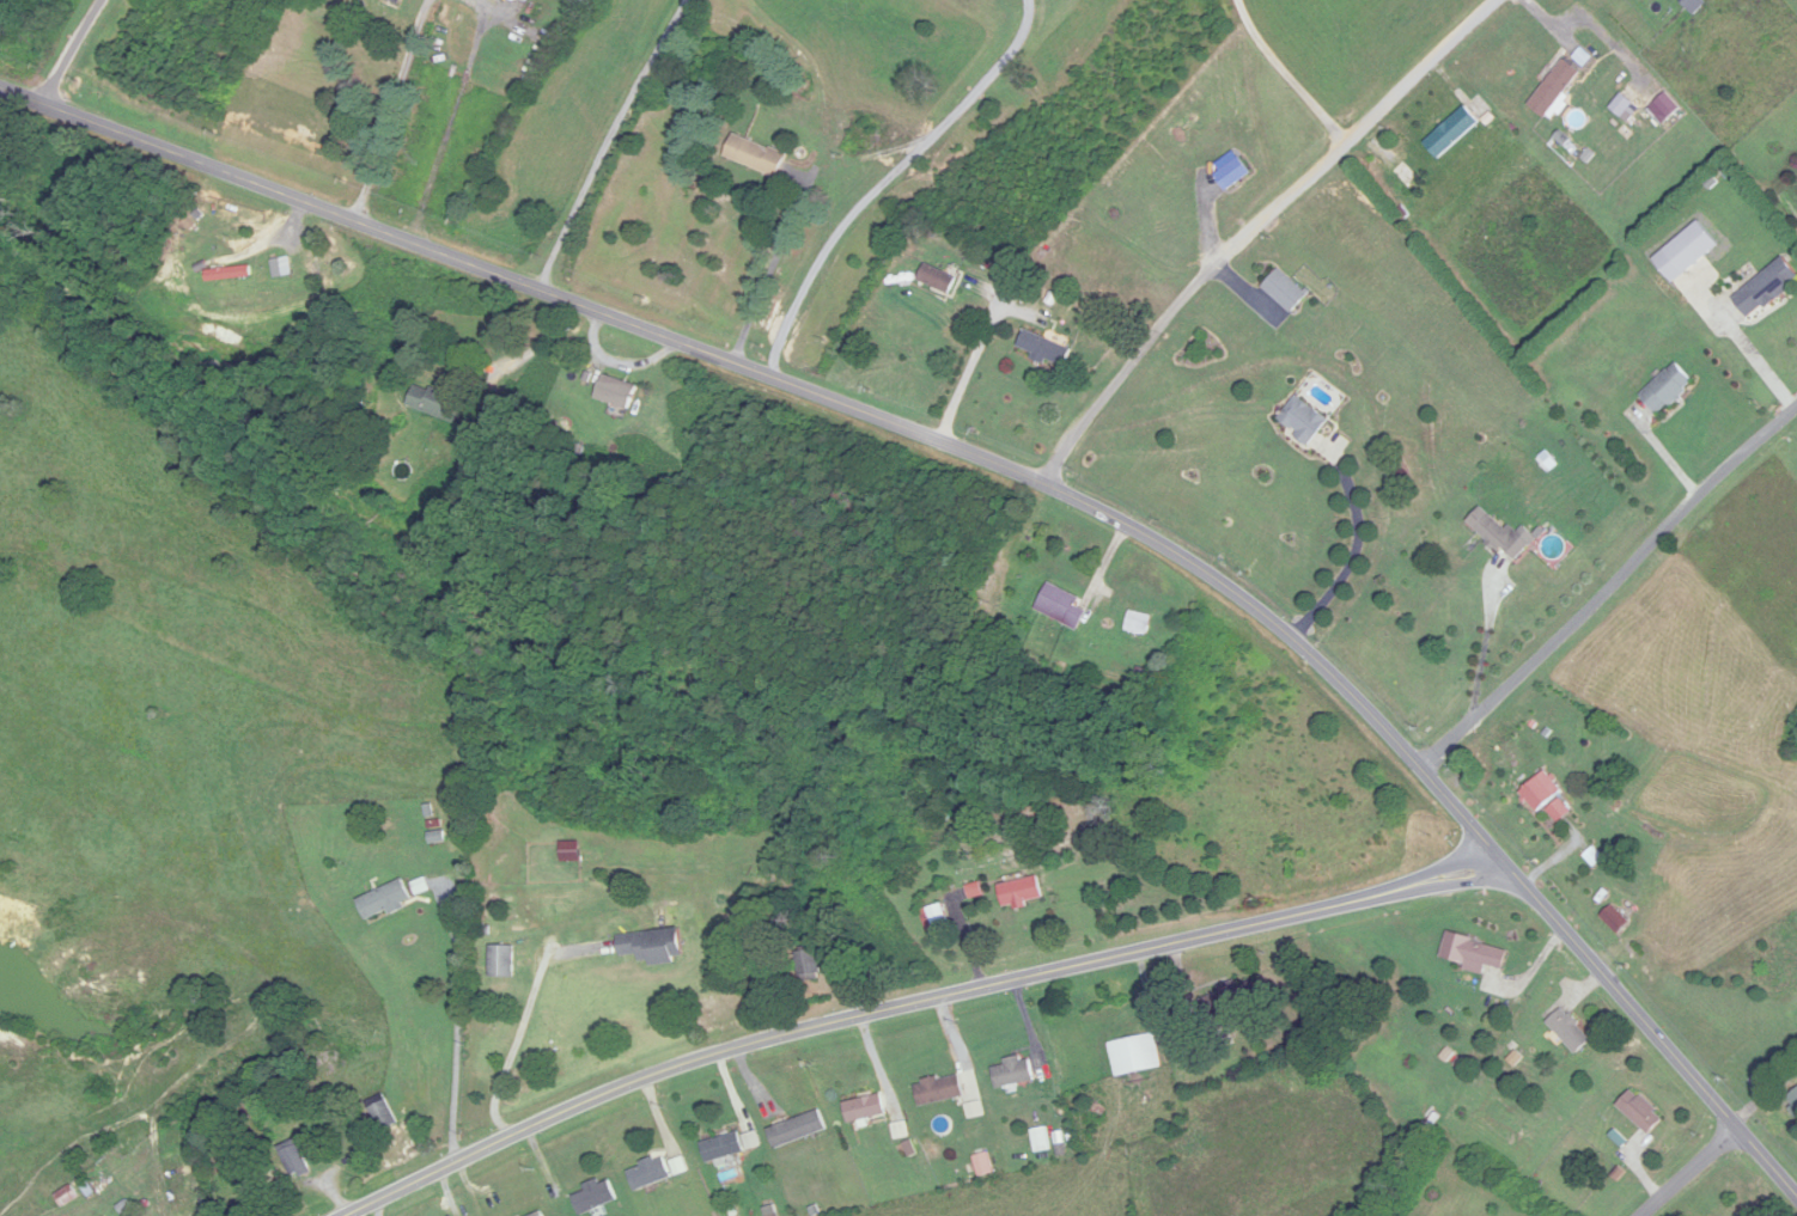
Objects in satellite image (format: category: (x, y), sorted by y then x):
building: (398, 1)
building: (525, 1)
building: (580, 2)
road: (67, 50)
road: (1289, 75)
building: (1557, 88)
road: (392, 109)
road: (453, 117)
building: (1452, 133)
road: (608, 141)
building: (756, 155)
building: (1233, 175)
road: (890, 178)
road: (1260, 226)
building: (184, 258)
road: (775, 268)
building: (938, 279)
building: (1767, 288)
building: (1286, 292)
building: (1046, 348)
road: (529, 352)
road: (979, 352)
building: (1669, 389)
building: (617, 391)
building: (437, 403)
building: (1304, 420)
road: (1012, 466)
building: (1504, 534)
road: (1354, 552)
road: (1609, 592)
building: (1062, 606)
building: (1139, 623)
building: (1541, 792)
building: (571, 853)
building: (1022, 893)
building: (385, 900)
building: (934, 918)
building: (1615, 919)
building: (654, 947)
building: (1474, 953)
building: (502, 961)
building: (809, 965)
building: (1230, 1001)
road: (913, 1002)
road: (458, 1020)
building: (1571, 1031)
road: (517, 1040)
building: (1135, 1056)
building: (1016, 1073)
building: (940, 1090)
building: (866, 1108)
building: (1641, 1112)
building: (380, 1113)
building: (798, 1130)
building: (1041, 1141)
building: (723, 1148)
building: (296, 1162)
road: (1694, 1172)
building: (650, 1173)
building: (67, 1197)
building: (595, 1197)
building: (540, 1215)

